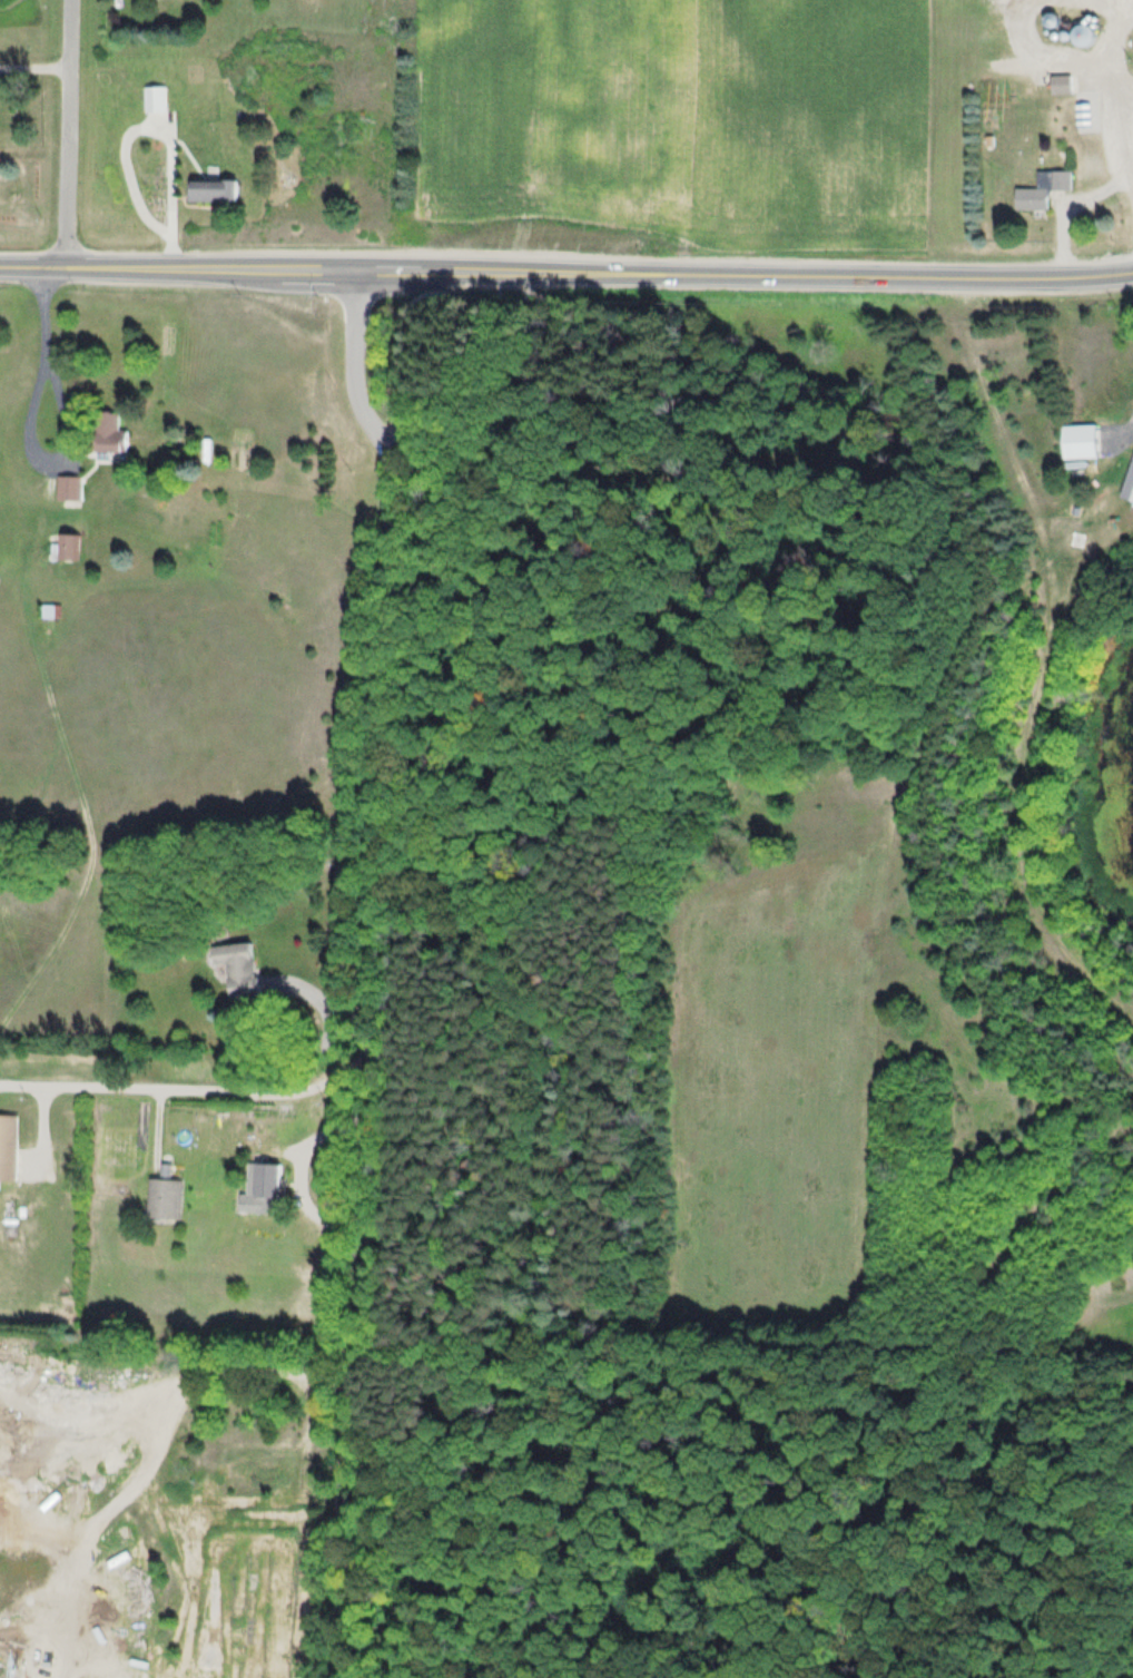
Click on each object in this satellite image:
building: (1084, 33)
road: (1120, 80)
building: (1060, 84)
building: (152, 97)
road: (63, 133)
building: (210, 188)
building: (1043, 188)
road: (566, 271)
building: (108, 432)
building: (1080, 440)
building: (1129, 481)
building: (68, 487)
building: (65, 544)
building: (236, 968)
road: (378, 968)
road: (190, 1090)
building: (7, 1146)
building: (266, 1187)
building: (161, 1195)
road: (539, 1358)
quarry: (98, 1511)
road: (797, 1562)

